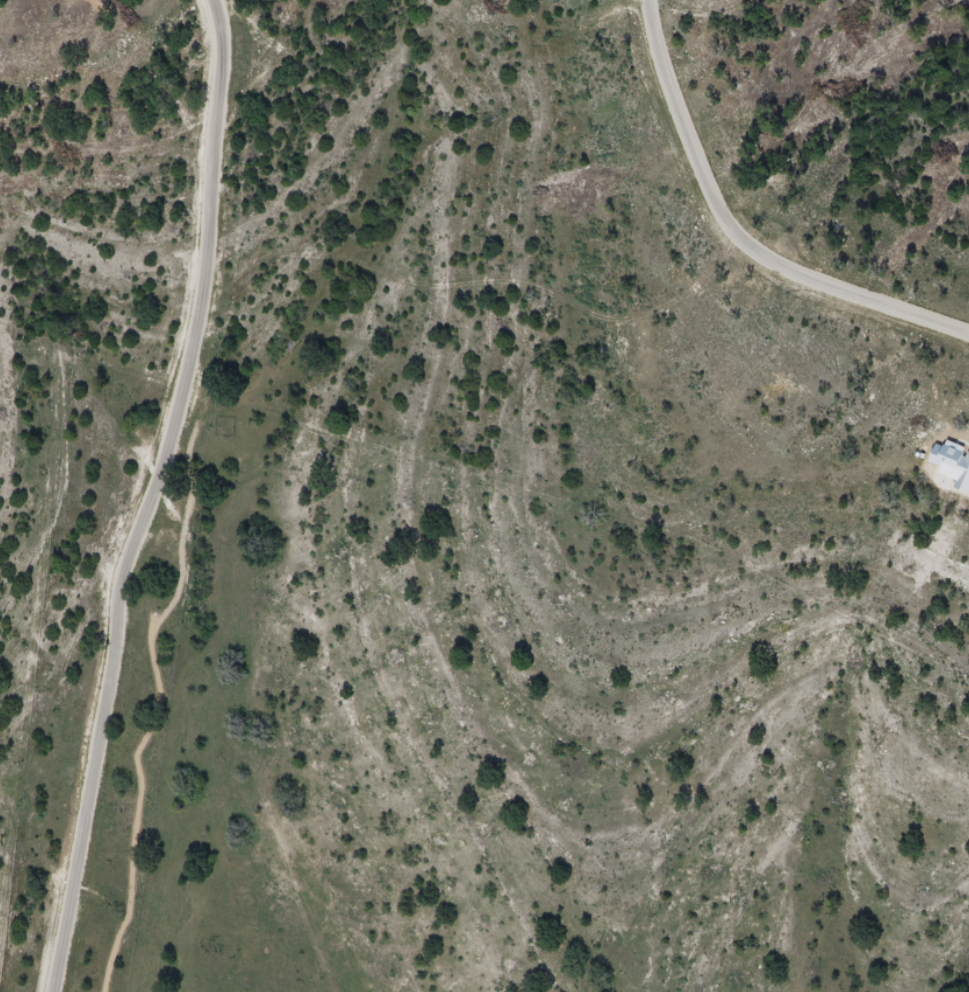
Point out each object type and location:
road: (737, 232)
road: (151, 497)

